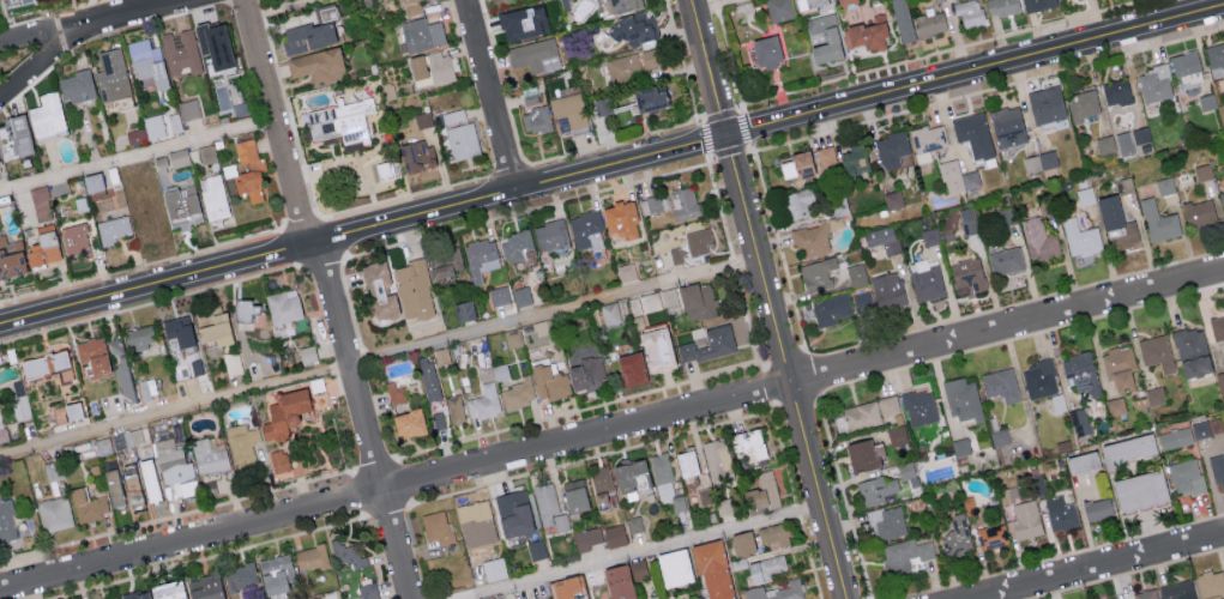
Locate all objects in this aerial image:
building: (845, 1)
building: (808, 2)
building: (1037, 4)
building: (622, 5)
road: (693, 6)
road: (718, 6)
building: (1002, 6)
building: (410, 7)
building: (778, 10)
building: (969, 12)
building: (902, 20)
building: (523, 22)
road: (96, 24)
building: (930, 24)
building: (633, 29)
building: (422, 34)
building: (868, 34)
building: (307, 36)
building: (831, 38)
building: (211, 43)
building: (766, 50)
building: (180, 52)
building: (535, 55)
building: (1216, 55)
building: (1184, 61)
building: (147, 62)
building: (633, 63)
road: (41, 65)
building: (318, 66)
building: (430, 68)
road: (976, 71)
road: (711, 73)
building: (113, 74)
building: (1188, 79)
building: (1156, 83)
building: (78, 86)
building: (1116, 91)
road: (494, 95)
building: (529, 95)
building: (649, 98)
building: (1206, 101)
building: (1083, 104)
building: (601, 105)
building: (1045, 105)
building: (189, 109)
building: (568, 113)
building: (453, 115)
building: (48, 116)
building: (423, 119)
building: (535, 120)
building: (174, 121)
building: (339, 121)
road: (278, 122)
building: (1007, 126)
building: (147, 129)
building: (973, 134)
building: (1140, 134)
building: (14, 137)
building: (927, 140)
building: (462, 141)
building: (1124, 141)
building: (1105, 144)
building: (892, 149)
building: (201, 155)
building: (416, 155)
building: (825, 156)
road: (139, 157)
building: (177, 157)
building: (854, 161)
building: (1039, 161)
road: (623, 162)
building: (797, 167)
building: (246, 170)
building: (1202, 171)
building: (957, 177)
building: (91, 182)
building: (1127, 184)
building: (1164, 186)
building: (1085, 195)
building: (213, 196)
road: (743, 198)
building: (1222, 198)
building: (893, 199)
building: (41, 202)
building: (673, 202)
building: (797, 204)
building: (181, 206)
building: (1199, 213)
building: (836, 217)
building: (620, 219)
building: (967, 222)
building: (1116, 222)
building: (1158, 222)
building: (0, 223)
building: (114, 229)
building: (584, 230)
building: (549, 234)
building: (930, 236)
building: (74, 237)
building: (1080, 237)
building: (882, 238)
building: (812, 240)
building: (1038, 240)
building: (698, 242)
building: (515, 246)
building: (42, 248)
building: (671, 256)
building: (10, 258)
building: (480, 258)
road: (259, 259)
building: (1006, 260)
building: (444, 262)
building: (626, 271)
building: (816, 273)
building: (856, 274)
building: (966, 276)
building: (927, 280)
building: (378, 289)
building: (414, 289)
building: (887, 290)
building: (499, 295)
building: (521, 296)
building: (653, 301)
building: (697, 301)
building: (863, 301)
building: (831, 308)
building: (282, 309)
building: (245, 310)
building: (464, 310)
building: (610, 313)
building: (210, 325)
building: (177, 329)
building: (138, 338)
building: (513, 338)
building: (710, 344)
building: (655, 347)
building: (1156, 352)
building: (1192, 352)
building: (307, 353)
building: (92, 356)
building: (441, 356)
road: (379, 358)
building: (48, 365)
building: (629, 367)
building: (1119, 367)
building: (122, 370)
building: (1081, 373)
building: (585, 374)
building: (428, 379)
building: (1039, 379)
building: (549, 381)
building: (1220, 381)
building: (1000, 385)
building: (147, 387)
building: (394, 392)
building: (487, 393)
building: (519, 393)
building: (1154, 395)
building: (963, 400)
building: (888, 405)
building: (1115, 406)
building: (919, 407)
building: (454, 409)
building: (65, 412)
building: (283, 413)
road: (367, 419)
building: (439, 419)
building: (1079, 420)
building: (408, 423)
building: (2, 430)
road: (613, 430)
road: (803, 430)
building: (1201, 434)
building: (897, 435)
building: (999, 436)
building: (1175, 438)
building: (116, 441)
building: (242, 443)
building: (747, 443)
building: (960, 446)
building: (1127, 449)
building: (863, 454)
building: (210, 455)
building: (716, 458)
building: (278, 461)
building: (1083, 461)
building: (685, 462)
building: (175, 466)
building: (906, 470)
building: (1218, 470)
building: (629, 476)
building: (662, 477)
building: (1186, 477)
building: (147, 479)
building: (131, 485)
building: (114, 486)
building: (602, 486)
building: (875, 490)
building: (1138, 490)
building: (761, 492)
building: (574, 496)
building: (88, 504)
building: (724, 506)
building: (969, 506)
building: (549, 507)
building: (1097, 509)
building: (55, 513)
building: (513, 513)
building: (1060, 513)
building: (1025, 519)
building: (472, 520)
building: (6, 521)
building: (887, 521)
building: (633, 524)
building: (438, 527)
building: (773, 534)
building: (955, 534)
building: (614, 536)
building: (991, 536)
building: (586, 538)
building: (741, 543)
building: (536, 549)
road: (647, 549)
building: (346, 553)
building: (904, 555)
building: (310, 557)
building: (673, 567)
road: (1099, 567)
building: (764, 569)
building: (712, 570)
building: (276, 573)
building: (240, 575)
building: (620, 580)
building: (1210, 585)
building: (204, 587)
building: (568, 587)
building: (165, 589)
building: (1176, 589)
building: (368, 591)
building: (777, 591)
building: (134, 594)
building: (1142, 594)
building: (498, 597)
building: (314, 598)
building: (658, 598)
building: (694, 598)
building: (1114, 598)

